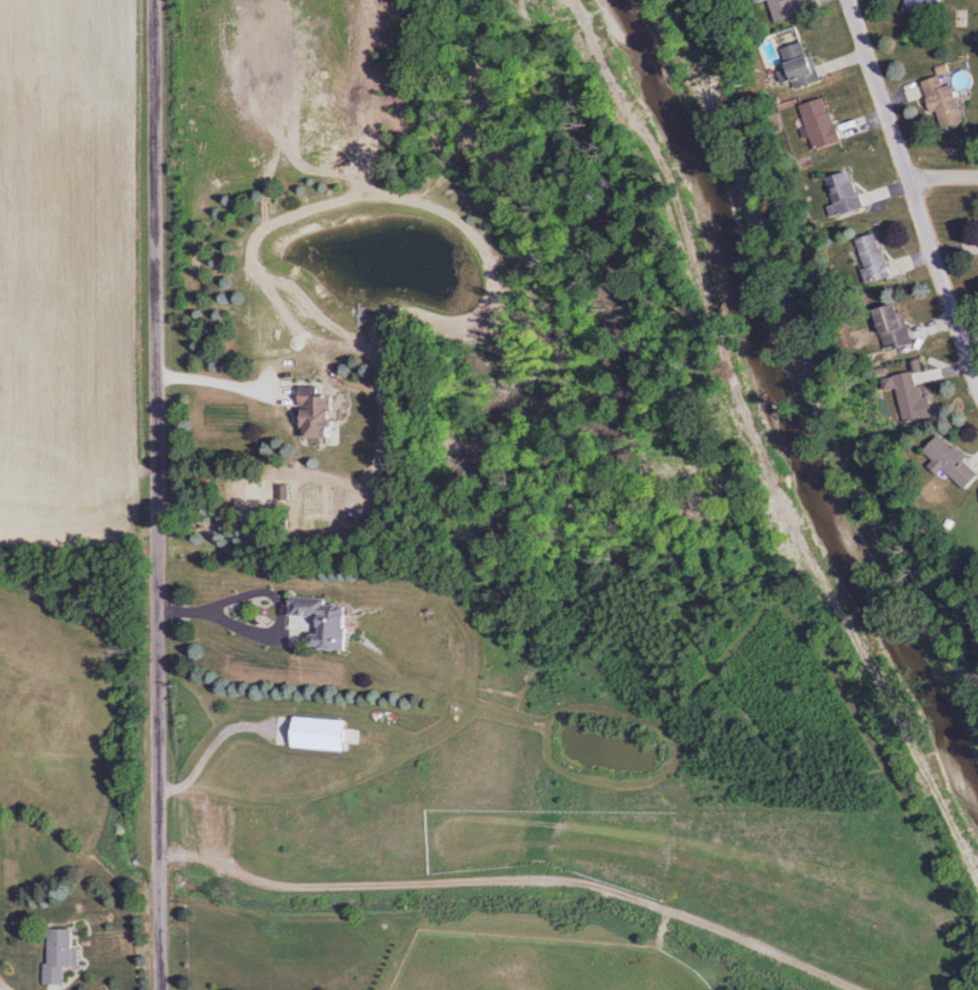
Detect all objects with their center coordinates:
building: (754, 1)
building: (917, 5)
building: (779, 9)
building: (795, 66)
building: (939, 102)
building: (817, 124)
road: (942, 177)
building: (841, 193)
road: (913, 196)
building: (870, 258)
building: (889, 328)
road: (218, 379)
building: (906, 396)
building: (308, 415)
building: (947, 463)
road: (155, 495)
building: (312, 624)
road: (268, 628)
building: (54, 956)

